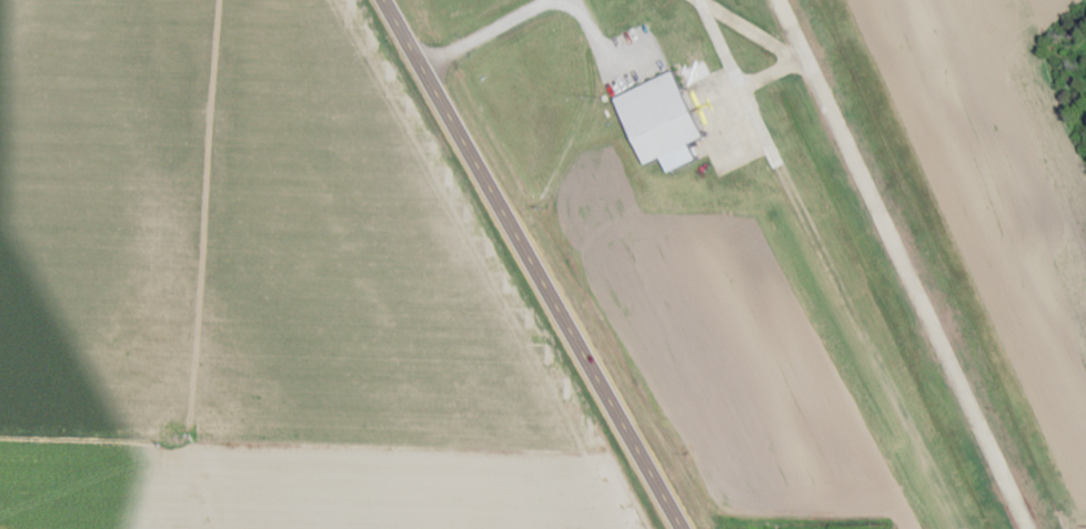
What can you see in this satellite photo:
road: (584, 22)
road: (487, 37)
airport taxiway: (787, 43)
parking lot: (630, 58)
airport taxiway: (737, 78)
airport hangar: (665, 111)
building: (665, 111)
road: (532, 264)
airport runway: (905, 264)

